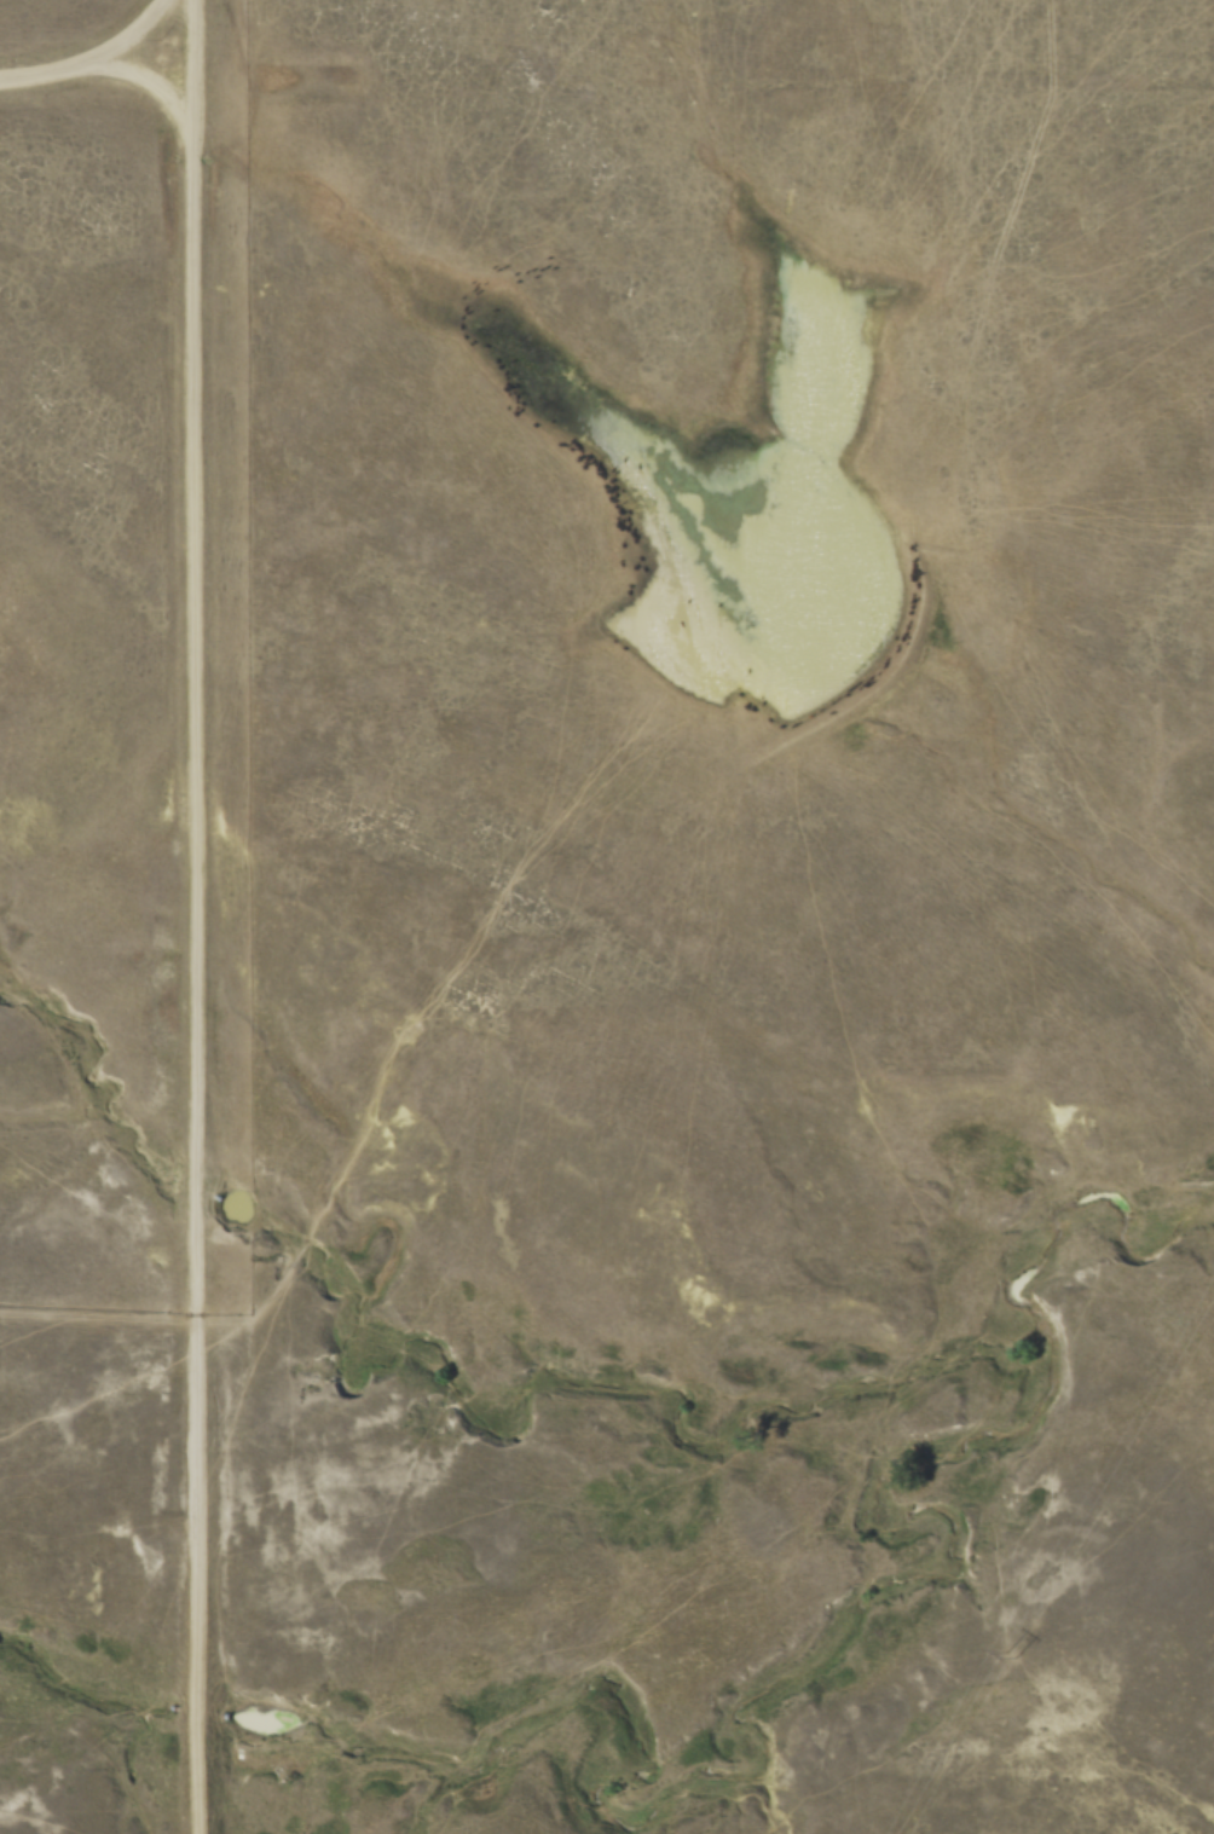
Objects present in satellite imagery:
road: (88, 57)
road: (150, 85)
road: (195, 916)
power tower: (1006, 1654)

